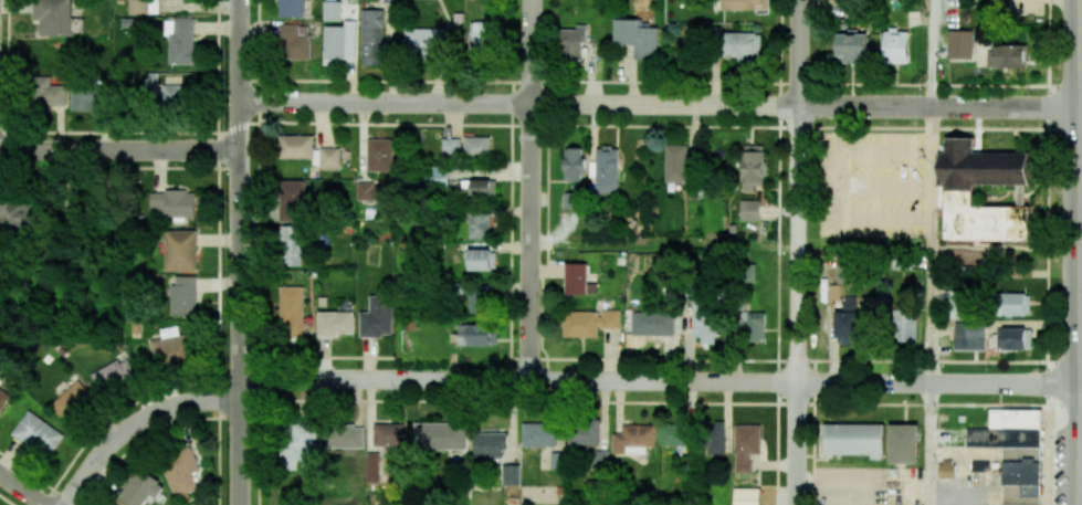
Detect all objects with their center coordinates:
building: (744, 4)
building: (138, 7)
building: (291, 8)
building: (330, 10)
building: (53, 17)
building: (372, 36)
building: (480, 36)
building: (637, 38)
building: (180, 41)
building: (294, 41)
building: (339, 42)
building: (571, 42)
building: (426, 43)
building: (959, 44)
building: (740, 45)
building: (895, 46)
building: (852, 48)
road: (935, 53)
road: (1075, 54)
building: (1008, 56)
road: (1079, 59)
road: (1064, 85)
building: (48, 92)
building: (168, 92)
building: (88, 97)
road: (660, 104)
road: (1064, 128)
road: (884, 145)
building: (476, 146)
building: (450, 147)
road: (119, 149)
building: (307, 150)
building: (379, 155)
building: (675, 164)
building: (574, 165)
building: (753, 166)
building: (607, 170)
building: (434, 178)
building: (483, 188)
road: (531, 189)
building: (366, 190)
road: (884, 190)
building: (984, 193)
building: (291, 199)
building: (570, 200)
building: (172, 203)
building: (749, 210)
building: (11, 214)
road: (883, 215)
building: (480, 225)
road: (1081, 230)
building: (290, 245)
building: (180, 251)
road: (239, 252)
road: (798, 252)
road: (1047, 252)
building: (482, 260)
building: (747, 272)
building: (577, 278)
building: (833, 292)
building: (183, 295)
road: (1081, 297)
building: (479, 302)
building: (956, 303)
building: (1012, 304)
road: (1080, 306)
building: (292, 311)
building: (377, 317)
building: (704, 320)
building: (849, 320)
building: (336, 323)
building: (589, 323)
building: (652, 323)
building: (754, 326)
building: (904, 327)
building: (476, 335)
building: (968, 336)
building: (1016, 338)
building: (171, 348)
road: (929, 359)
road: (1063, 361)
building: (113, 374)
road: (659, 380)
road: (1081, 383)
building: (3, 399)
building: (72, 402)
road: (1063, 404)
road: (135, 423)
building: (1008, 429)
building: (38, 433)
building: (584, 433)
building: (538, 434)
building: (672, 434)
building: (387, 435)
building: (439, 435)
building: (633, 436)
building: (343, 438)
building: (714, 438)
building: (854, 439)
building: (297, 444)
building: (903, 444)
building: (489, 445)
building: (745, 446)
building: (600, 460)
building: (947, 470)
building: (180, 471)
building: (511, 474)
building: (1021, 482)
building: (141, 488)
road: (21, 490)
building: (746, 496)
building: (113, 504)

